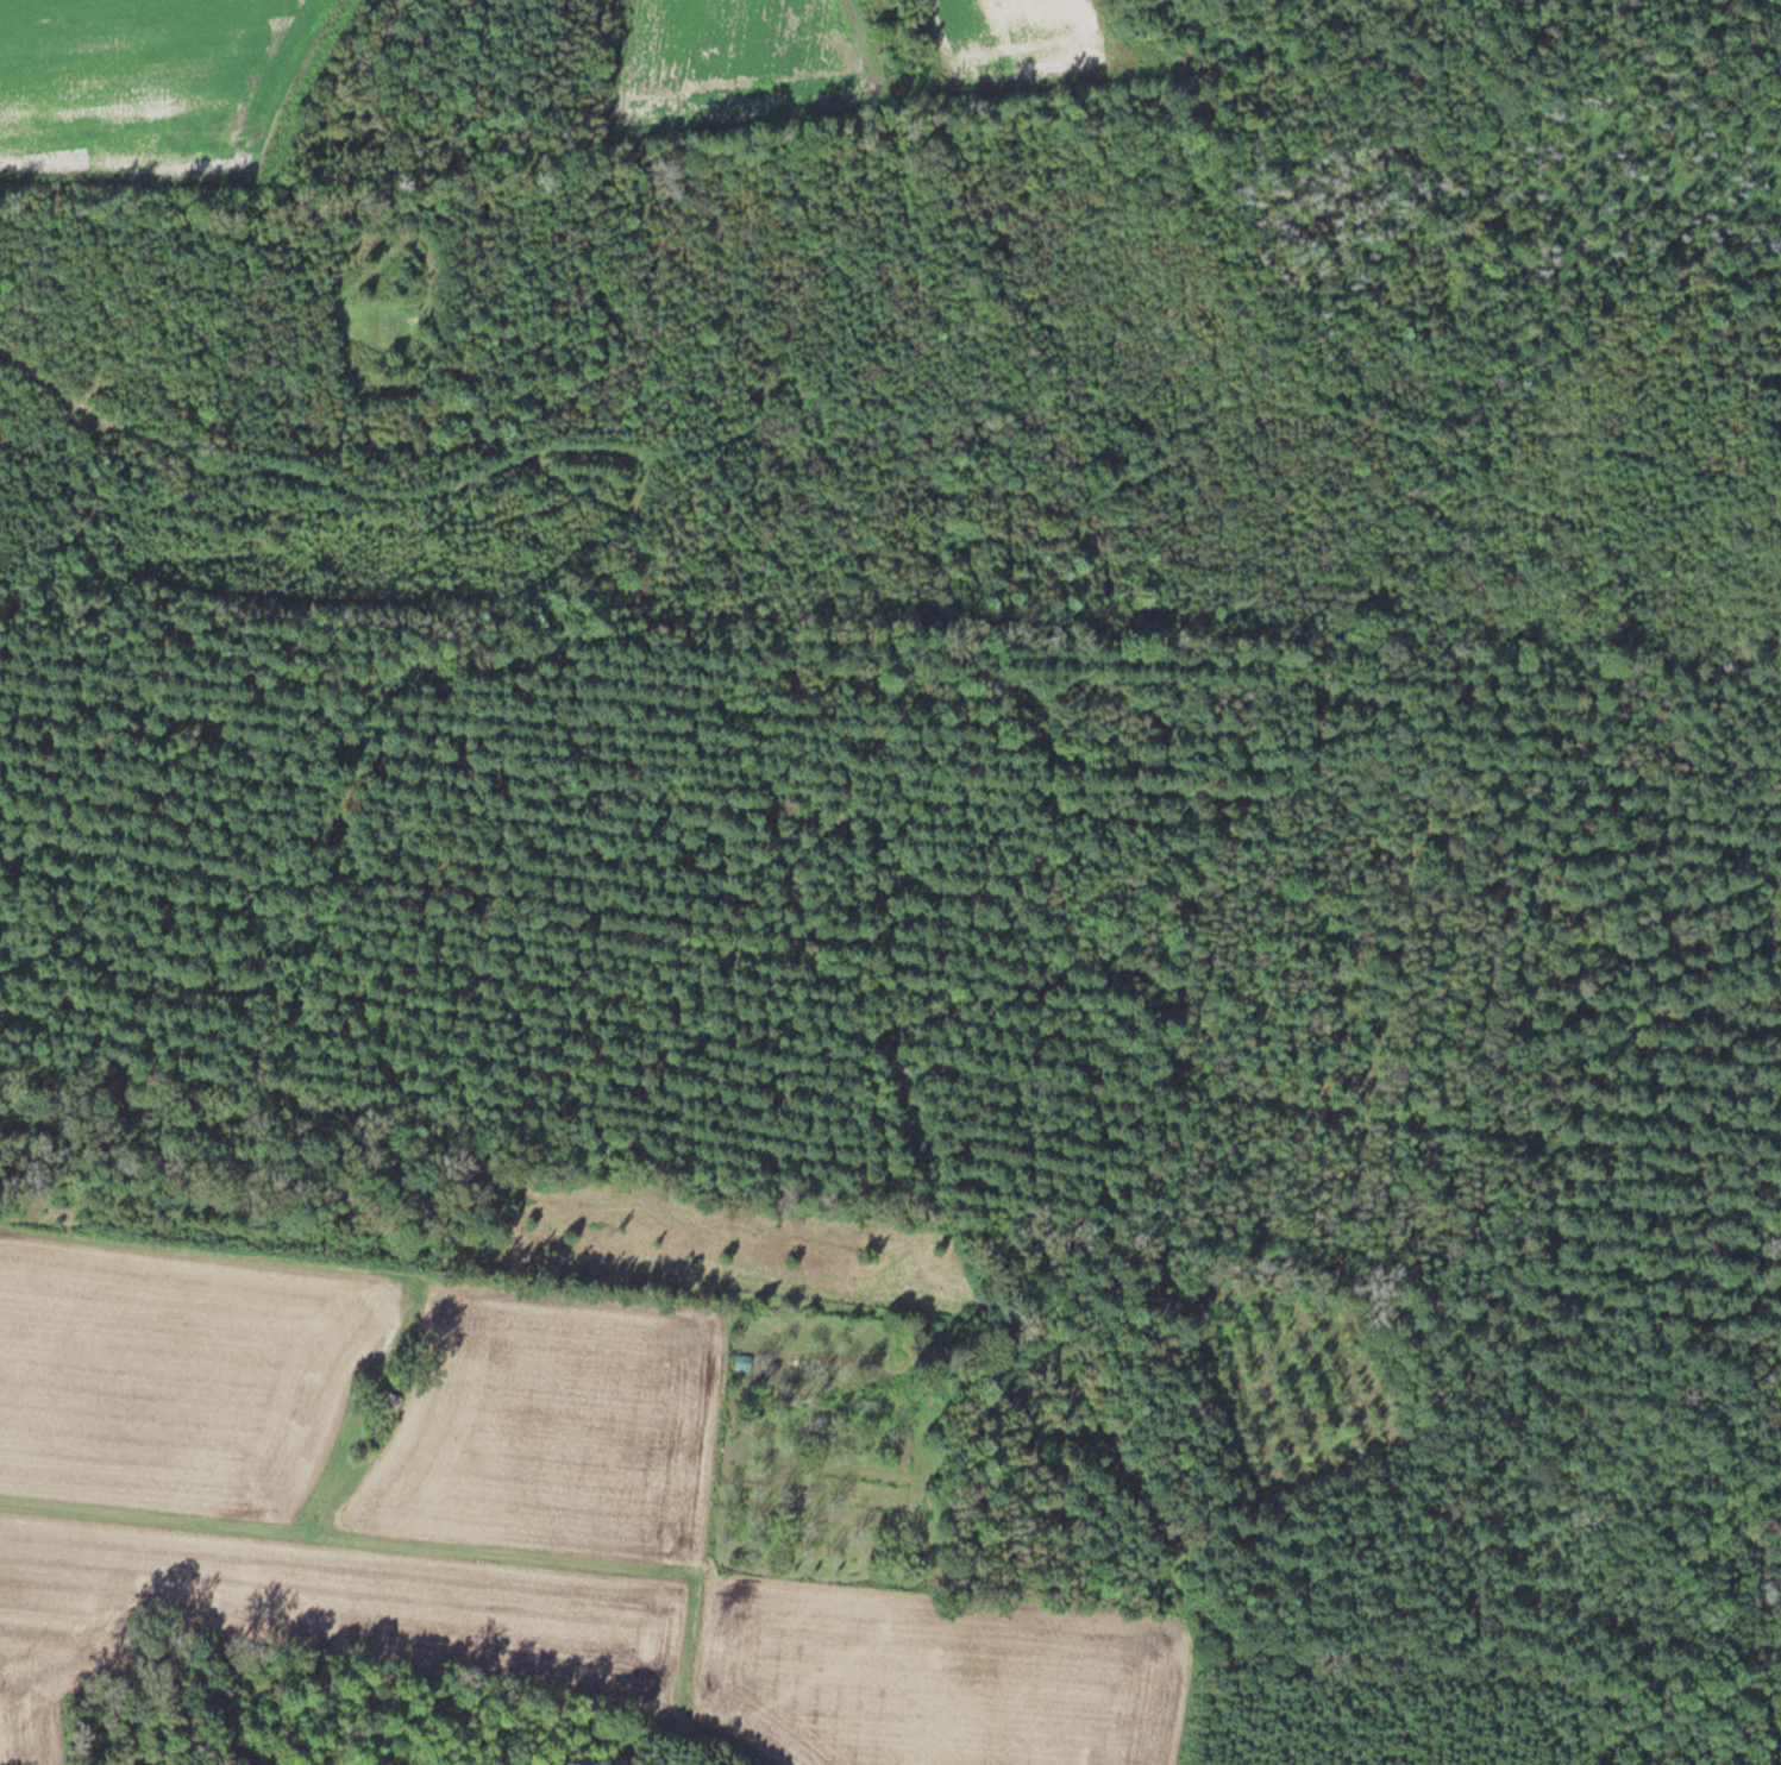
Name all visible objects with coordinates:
building: (376, 1420)

